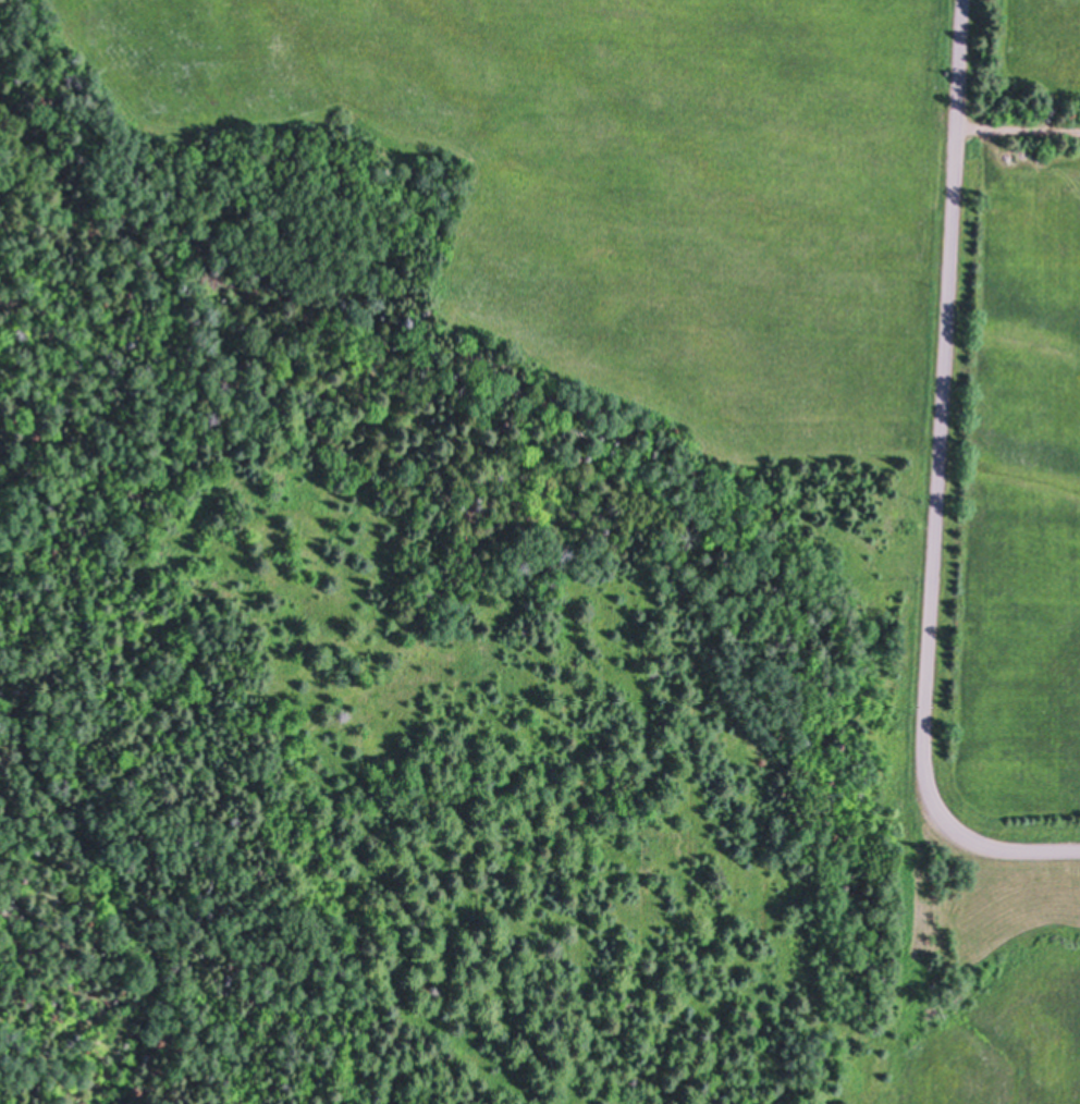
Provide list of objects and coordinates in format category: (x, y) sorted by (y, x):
road: (1019, 127)
road: (937, 484)

